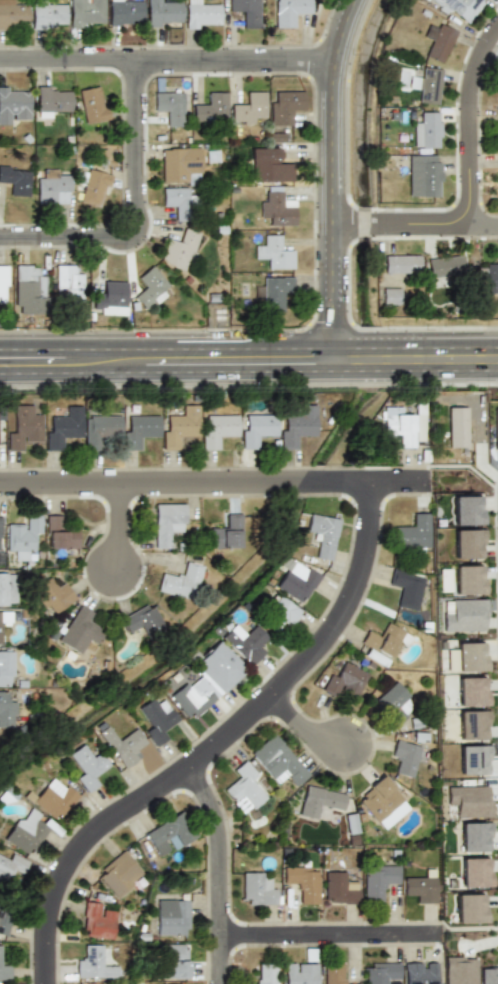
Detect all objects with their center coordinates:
building: (457, 6)
building: (124, 12)
building: (245, 12)
building: (290, 12)
building: (86, 14)
building: (163, 14)
building: (201, 14)
building: (12, 15)
building: (47, 16)
building: (441, 42)
road: (165, 59)
building: (428, 85)
building: (497, 87)
building: (497, 91)
building: (52, 99)
building: (13, 103)
building: (91, 104)
building: (284, 106)
building: (169, 107)
building: (210, 107)
building: (248, 107)
building: (427, 130)
building: (497, 130)
building: (275, 136)
road: (480, 139)
building: (179, 163)
building: (268, 165)
building: (424, 175)
building: (15, 180)
road: (328, 182)
building: (53, 186)
building: (93, 187)
building: (175, 199)
building: (277, 206)
road: (135, 213)
road: (404, 231)
road: (489, 233)
building: (179, 249)
building: (275, 252)
building: (401, 263)
building: (445, 265)
building: (491, 280)
building: (68, 283)
building: (4, 284)
building: (30, 284)
building: (150, 287)
building: (275, 292)
building: (390, 295)
building: (111, 297)
road: (249, 348)
road: (248, 370)
building: (298, 425)
building: (400, 425)
building: (62, 427)
building: (179, 427)
building: (456, 427)
building: (495, 427)
building: (23, 428)
building: (257, 428)
building: (100, 429)
building: (139, 429)
building: (218, 429)
road: (219, 491)
building: (466, 510)
building: (167, 524)
building: (228, 532)
building: (412, 533)
building: (0, 534)
building: (59, 534)
road: (126, 534)
building: (23, 535)
building: (323, 535)
building: (466, 543)
building: (468, 579)
building: (182, 581)
building: (297, 581)
building: (8, 587)
building: (406, 588)
building: (53, 595)
building: (280, 614)
building: (463, 615)
building: (144, 621)
building: (1, 631)
building: (80, 631)
building: (244, 642)
building: (382, 642)
building: (469, 657)
building: (6, 667)
building: (219, 668)
building: (344, 680)
building: (470, 691)
building: (191, 699)
building: (393, 702)
building: (7, 711)
building: (157, 719)
building: (471, 725)
road: (310, 734)
building: (124, 745)
road: (227, 748)
building: (404, 757)
building: (472, 759)
building: (278, 761)
building: (88, 766)
building: (244, 788)
building: (55, 798)
building: (320, 801)
building: (382, 801)
building: (468, 801)
building: (27, 832)
building: (169, 834)
building: (473, 836)
building: (10, 867)
building: (475, 872)
building: (119, 873)
road: (227, 875)
building: (378, 881)
building: (302, 883)
building: (339, 888)
building: (420, 888)
building: (257, 889)
building: (469, 908)
building: (172, 917)
building: (4, 919)
building: (98, 920)
road: (338, 940)
building: (174, 961)
building: (94, 963)
building: (459, 970)
building: (5, 972)
building: (264, 973)
building: (299, 973)
building: (333, 973)
building: (382, 973)
building: (420, 973)
building: (488, 976)
building: (355, 983)

